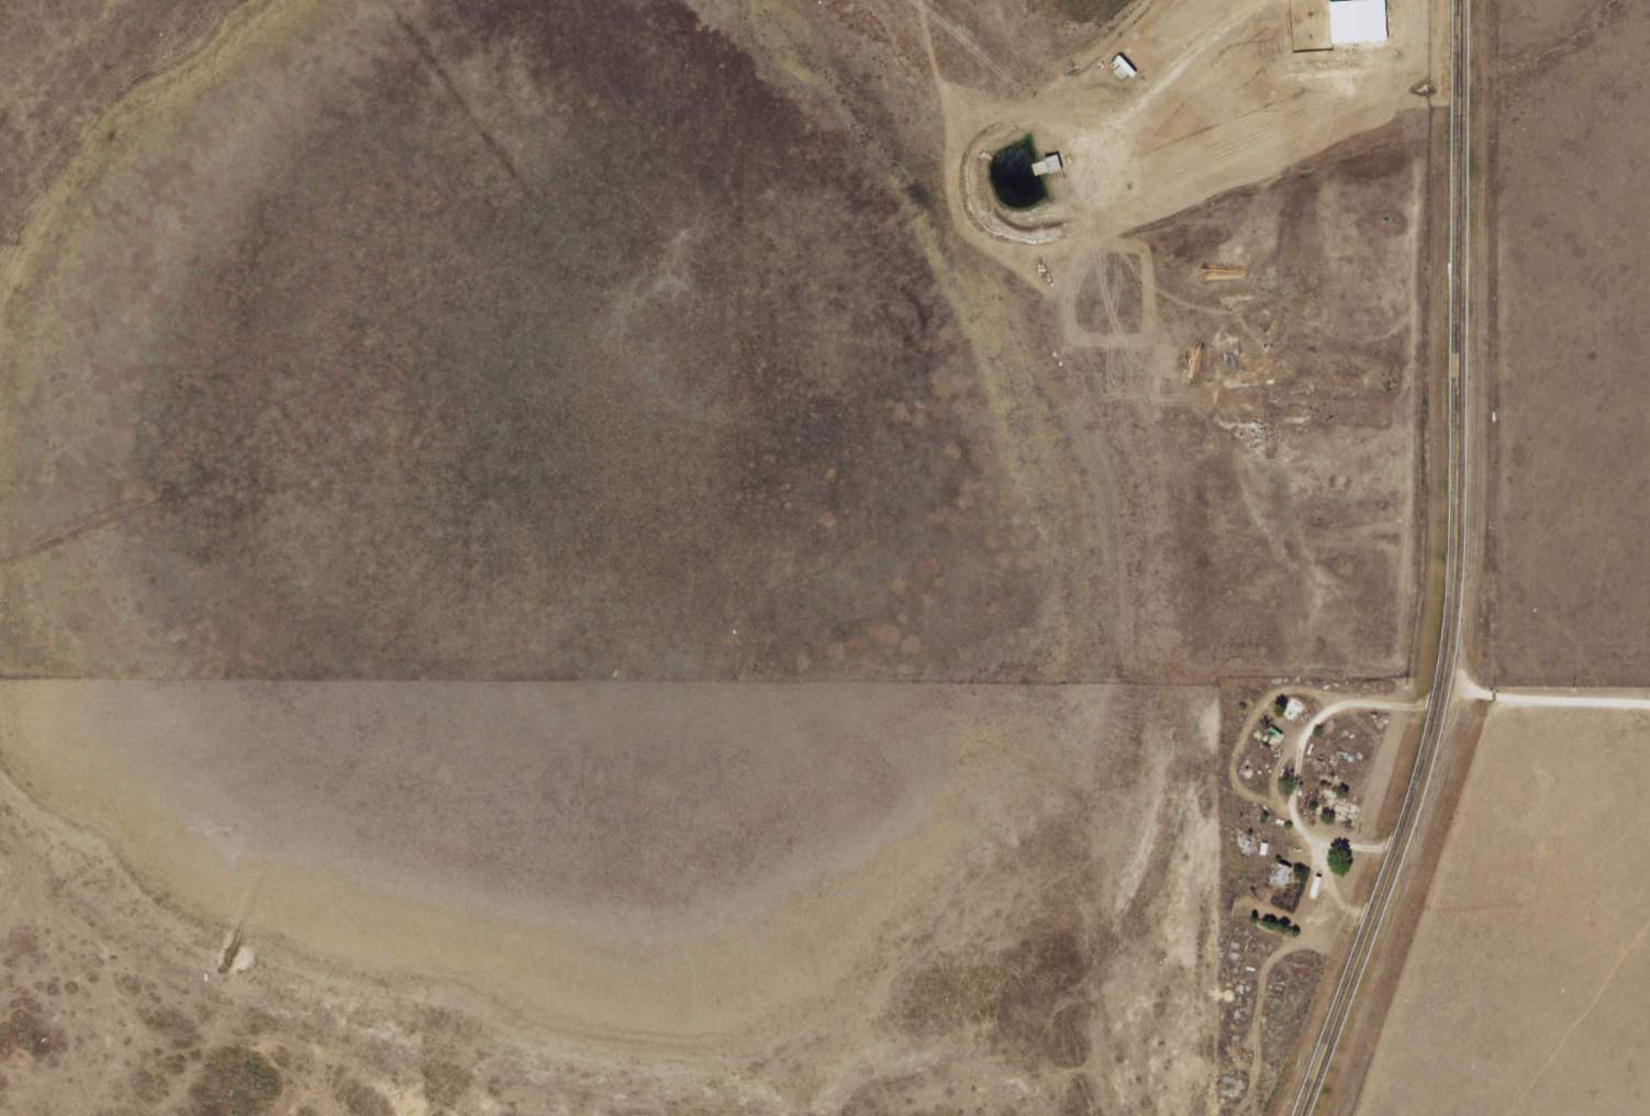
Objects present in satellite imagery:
road: (1459, 569)

